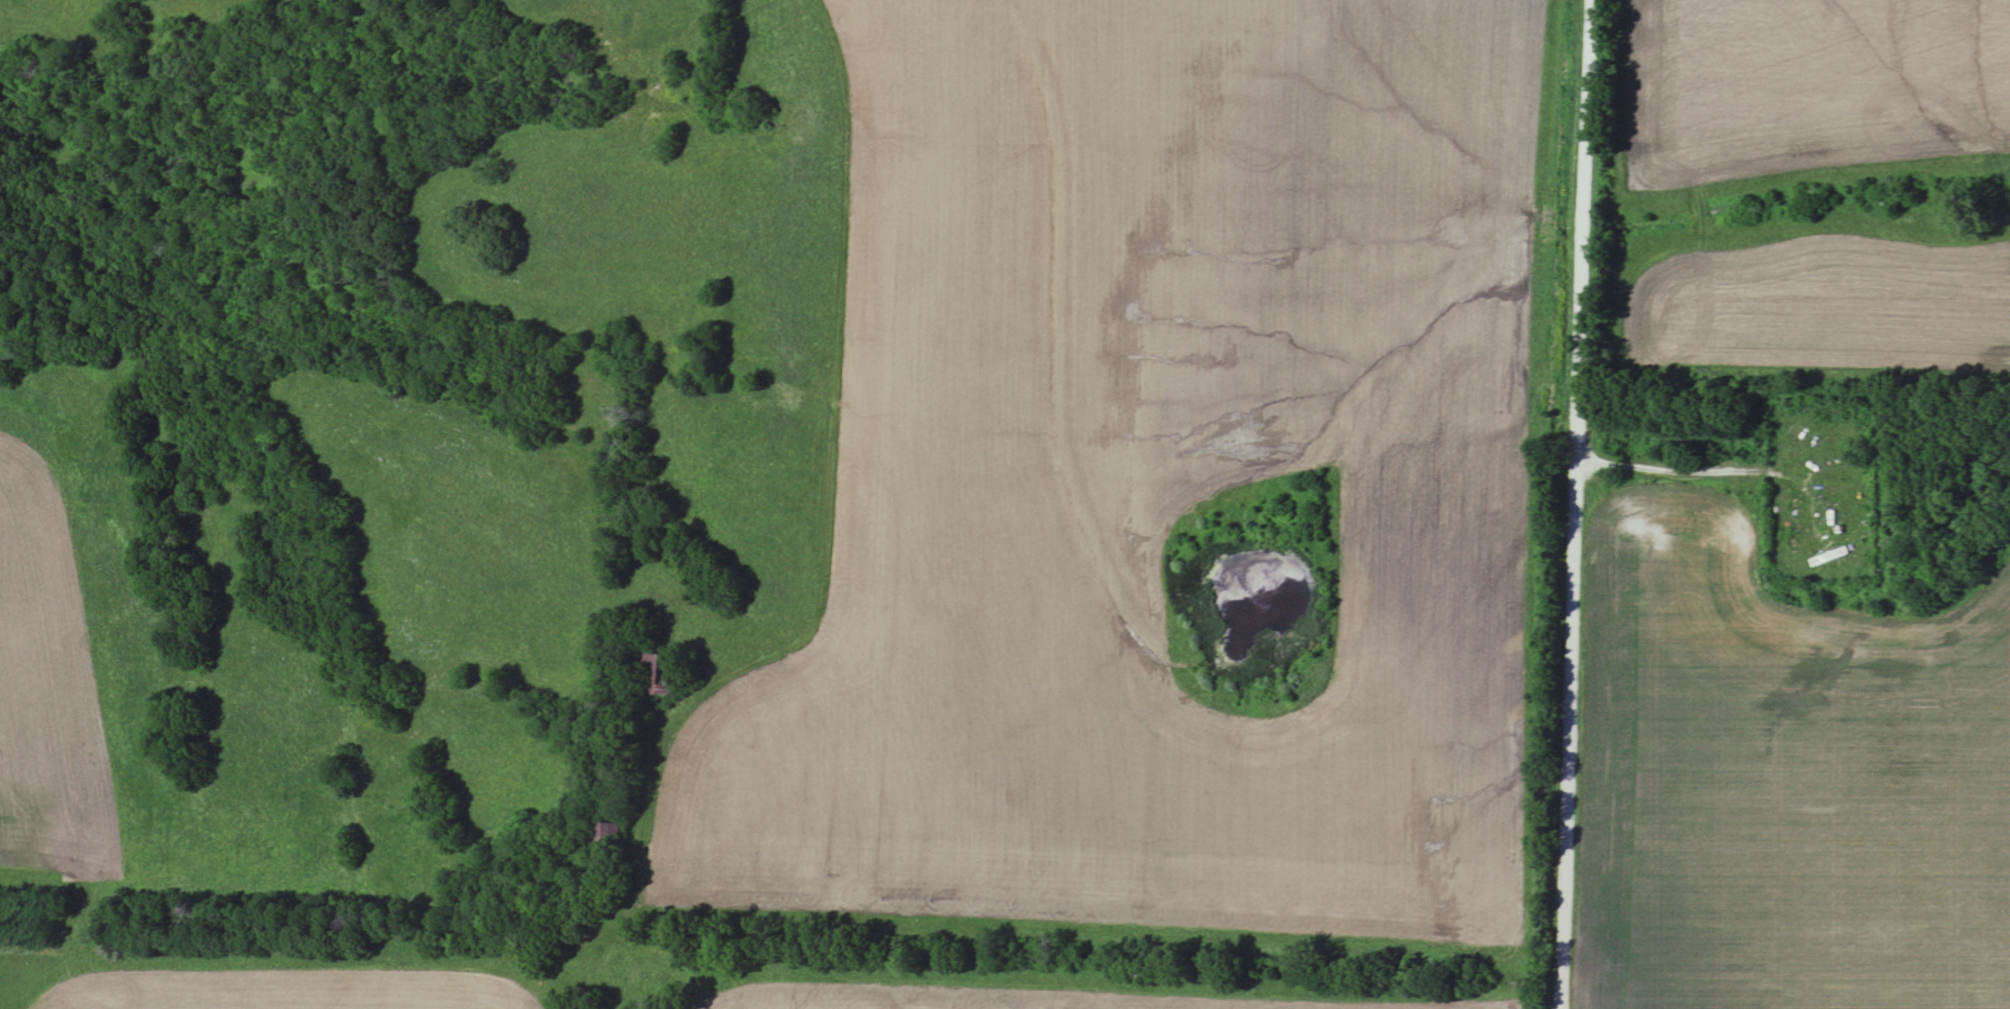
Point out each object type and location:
crop: (1804, 86)
road: (1586, 120)
road: (1671, 469)
crop: (1155, 480)
building: (1833, 544)
road: (1572, 624)
building: (659, 675)
crop: (46, 696)
crop: (1780, 781)
building: (613, 836)
crop: (291, 990)
crop: (1087, 998)

